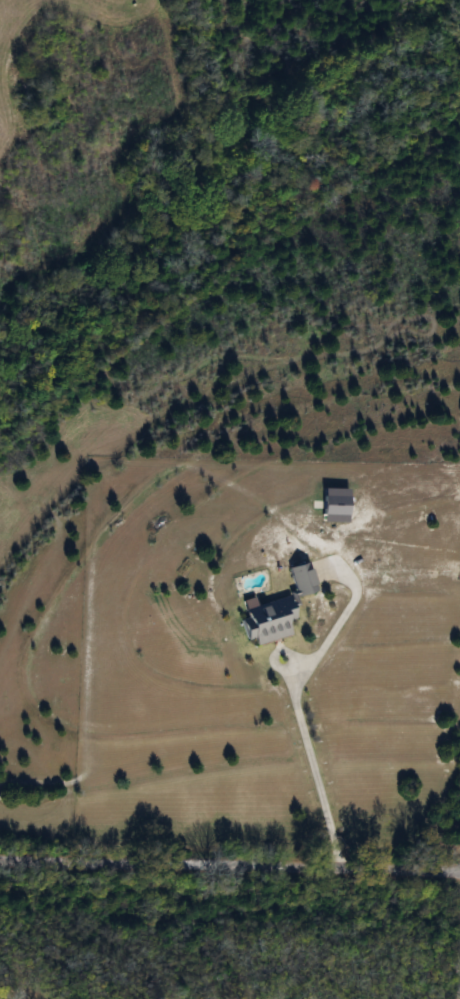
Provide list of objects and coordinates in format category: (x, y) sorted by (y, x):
building: (276, 609)
road: (310, 762)
road: (230, 865)

